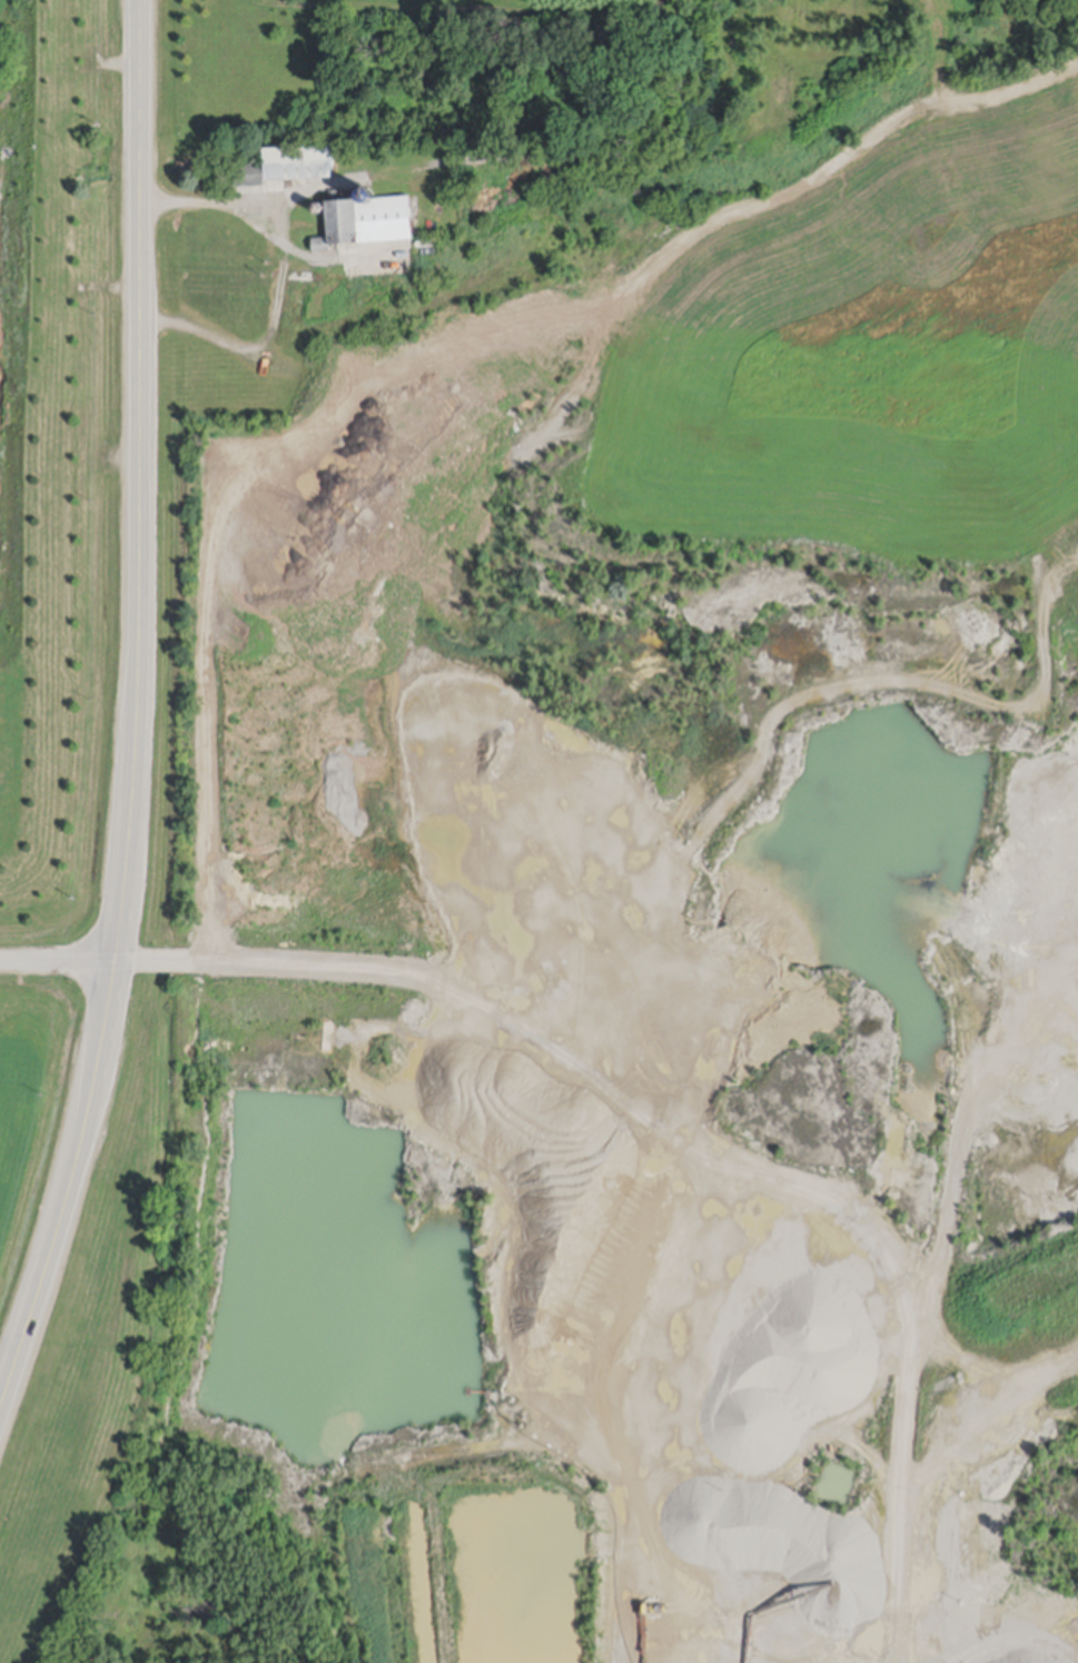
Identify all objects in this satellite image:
building: (603, 40)
building: (55, 89)
building: (297, 166)
building: (248, 177)
building: (365, 194)
building: (366, 226)
building: (51, 230)
building: (215, 244)
building: (411, 264)
building: (19, 275)
road: (289, 278)
building: (9, 320)
road: (135, 714)
quarry: (544, 864)

